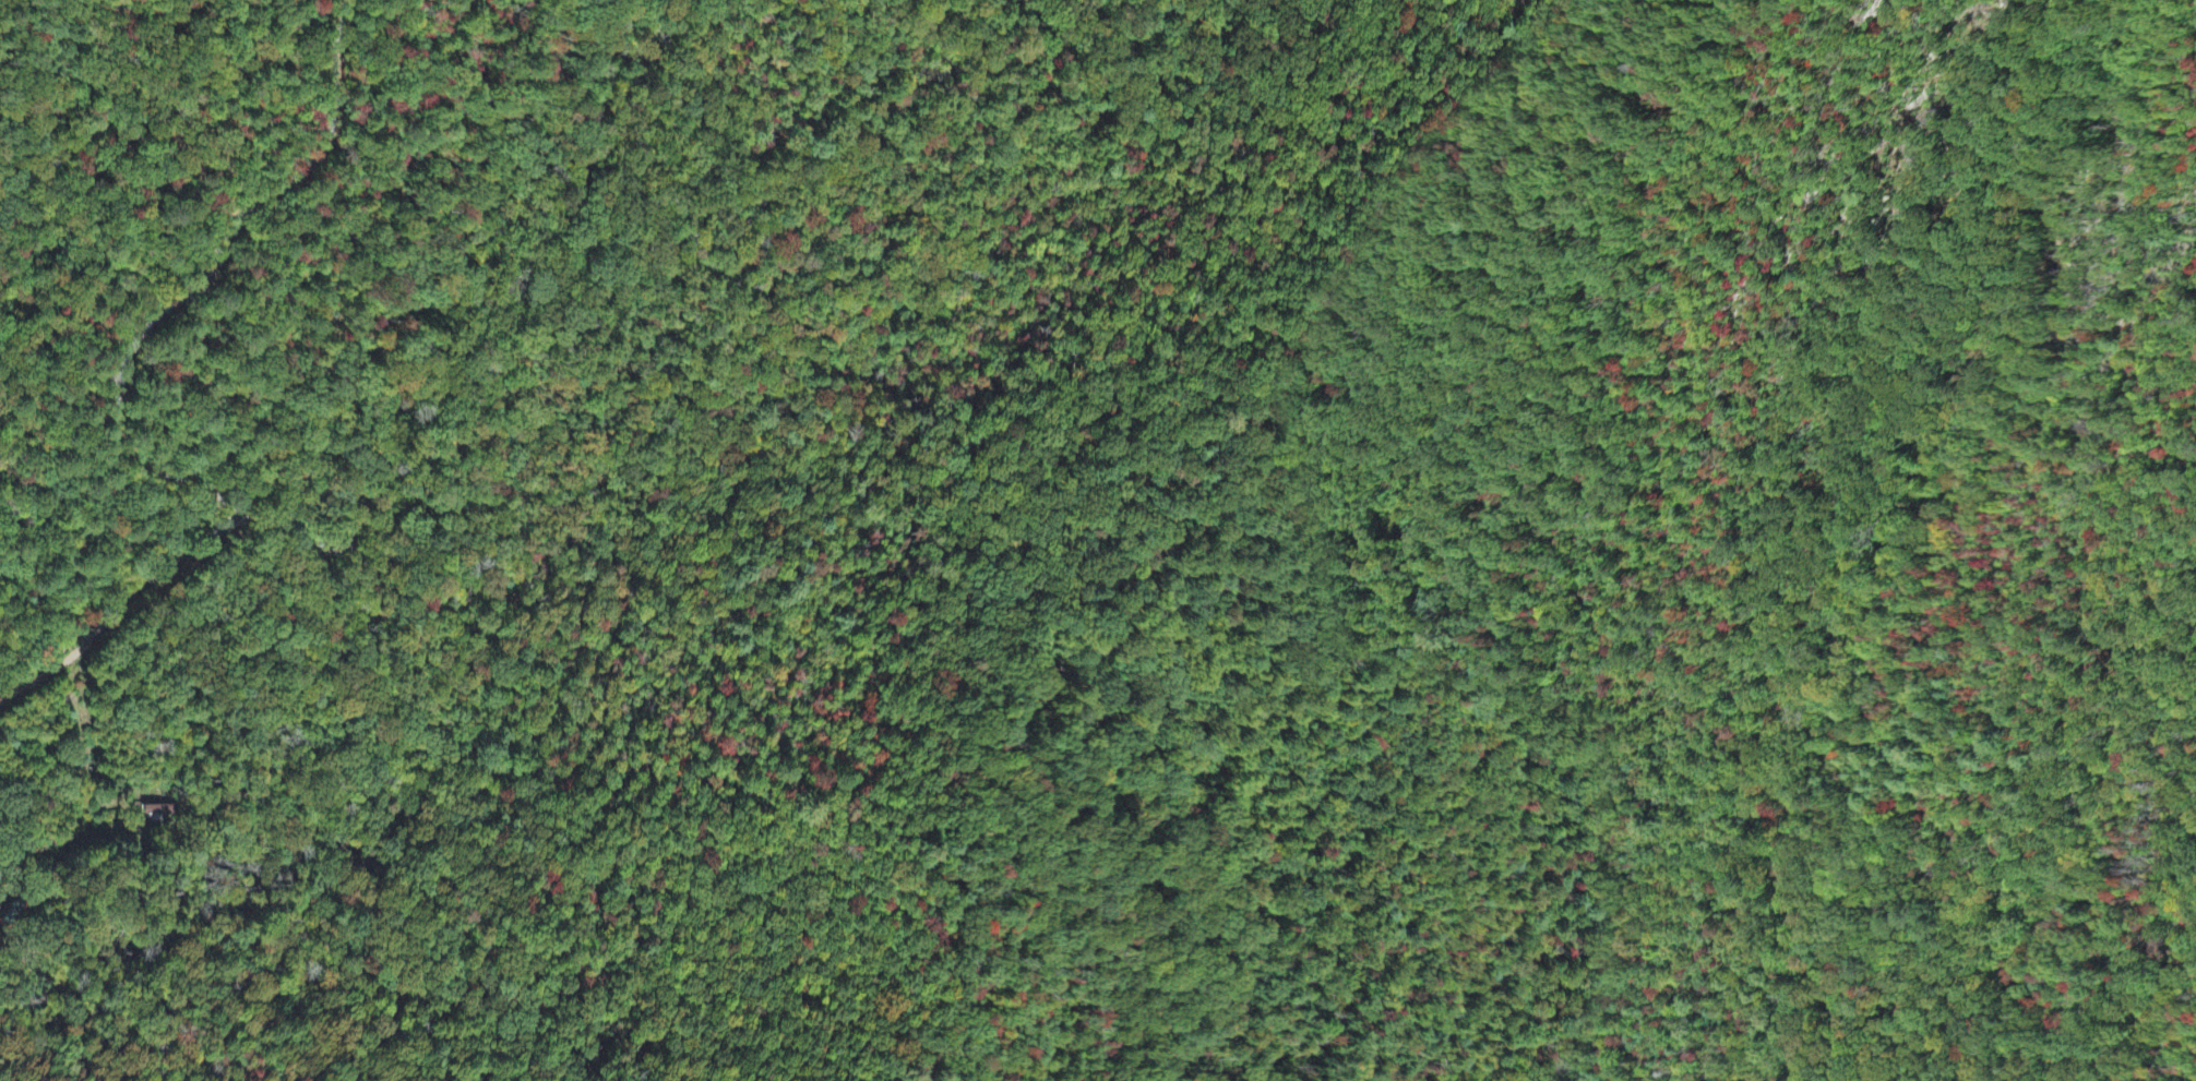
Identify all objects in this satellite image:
road: (756, 28)
road: (229, 508)
building: (160, 815)

